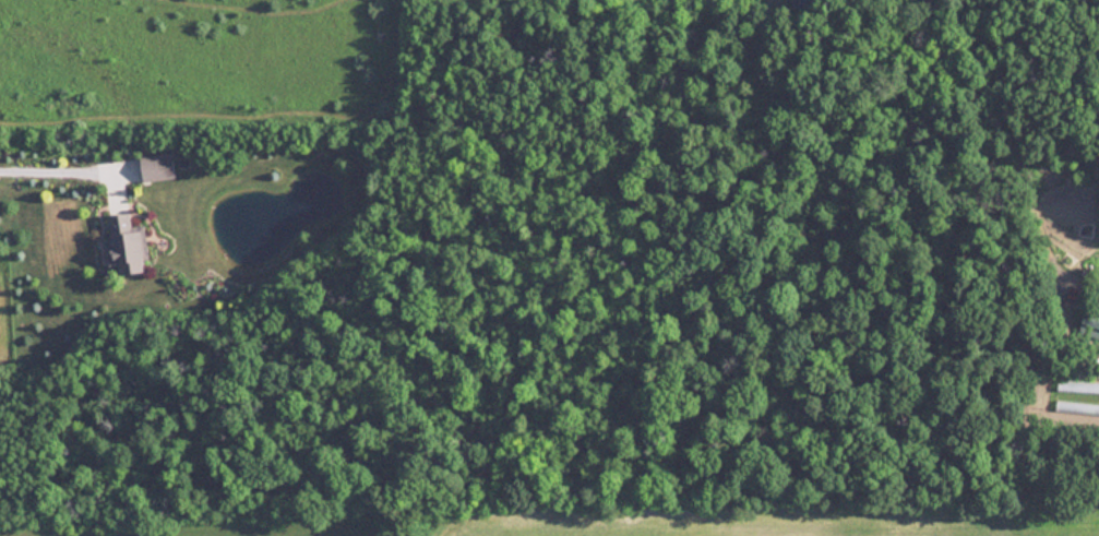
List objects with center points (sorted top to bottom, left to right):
building: (802, 3)
building: (155, 166)
road: (61, 169)
building: (124, 245)
building: (1089, 322)

